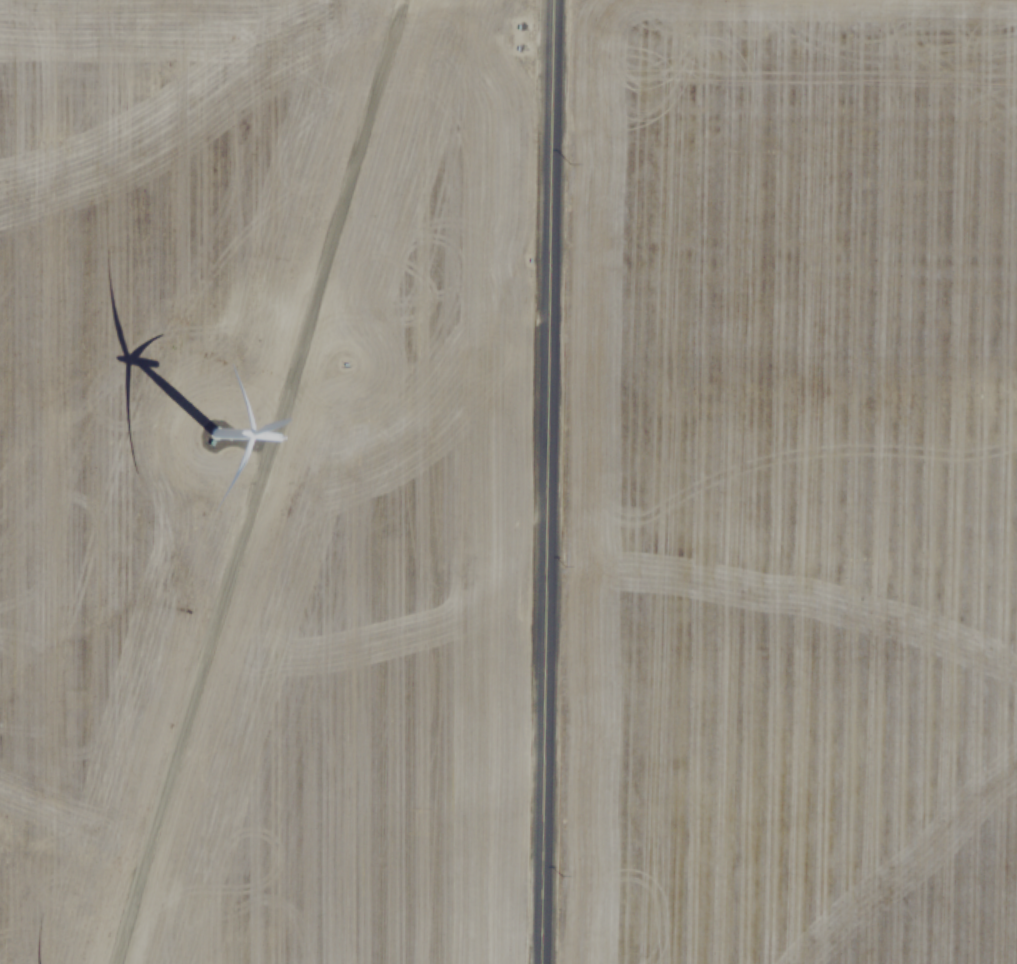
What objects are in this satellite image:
wind turbine: (225, 433)
road: (542, 481)

